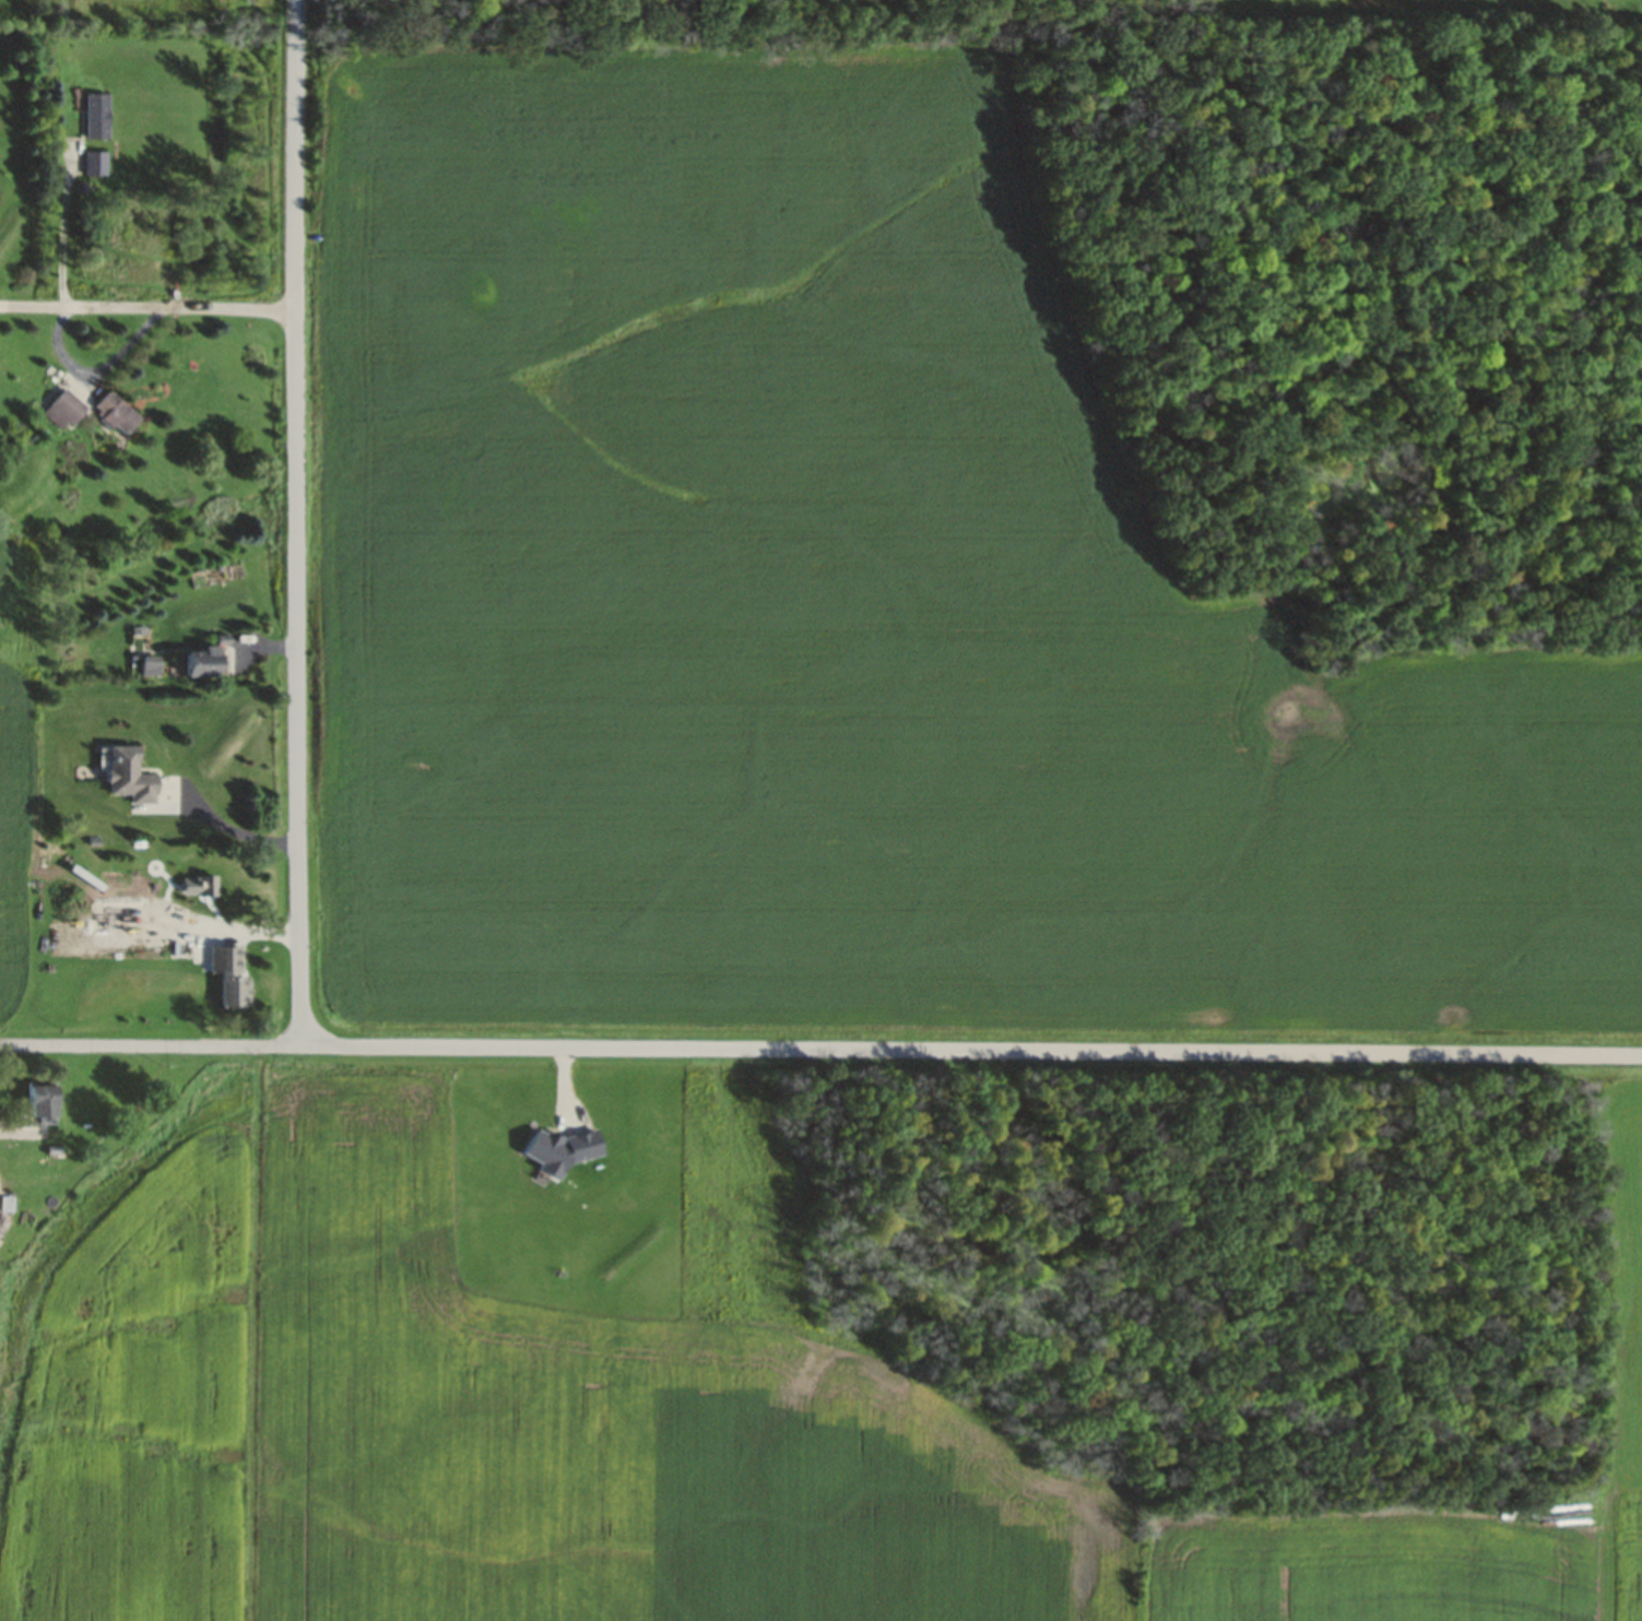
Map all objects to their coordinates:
building: (96, 114)
building: (95, 162)
road: (147, 308)
building: (64, 409)
building: (118, 412)
road: (295, 523)
building: (205, 661)
building: (151, 663)
building: (128, 774)
road: (232, 830)
building: (205, 885)
building: (228, 972)
road: (820, 1050)
building: (43, 1101)

